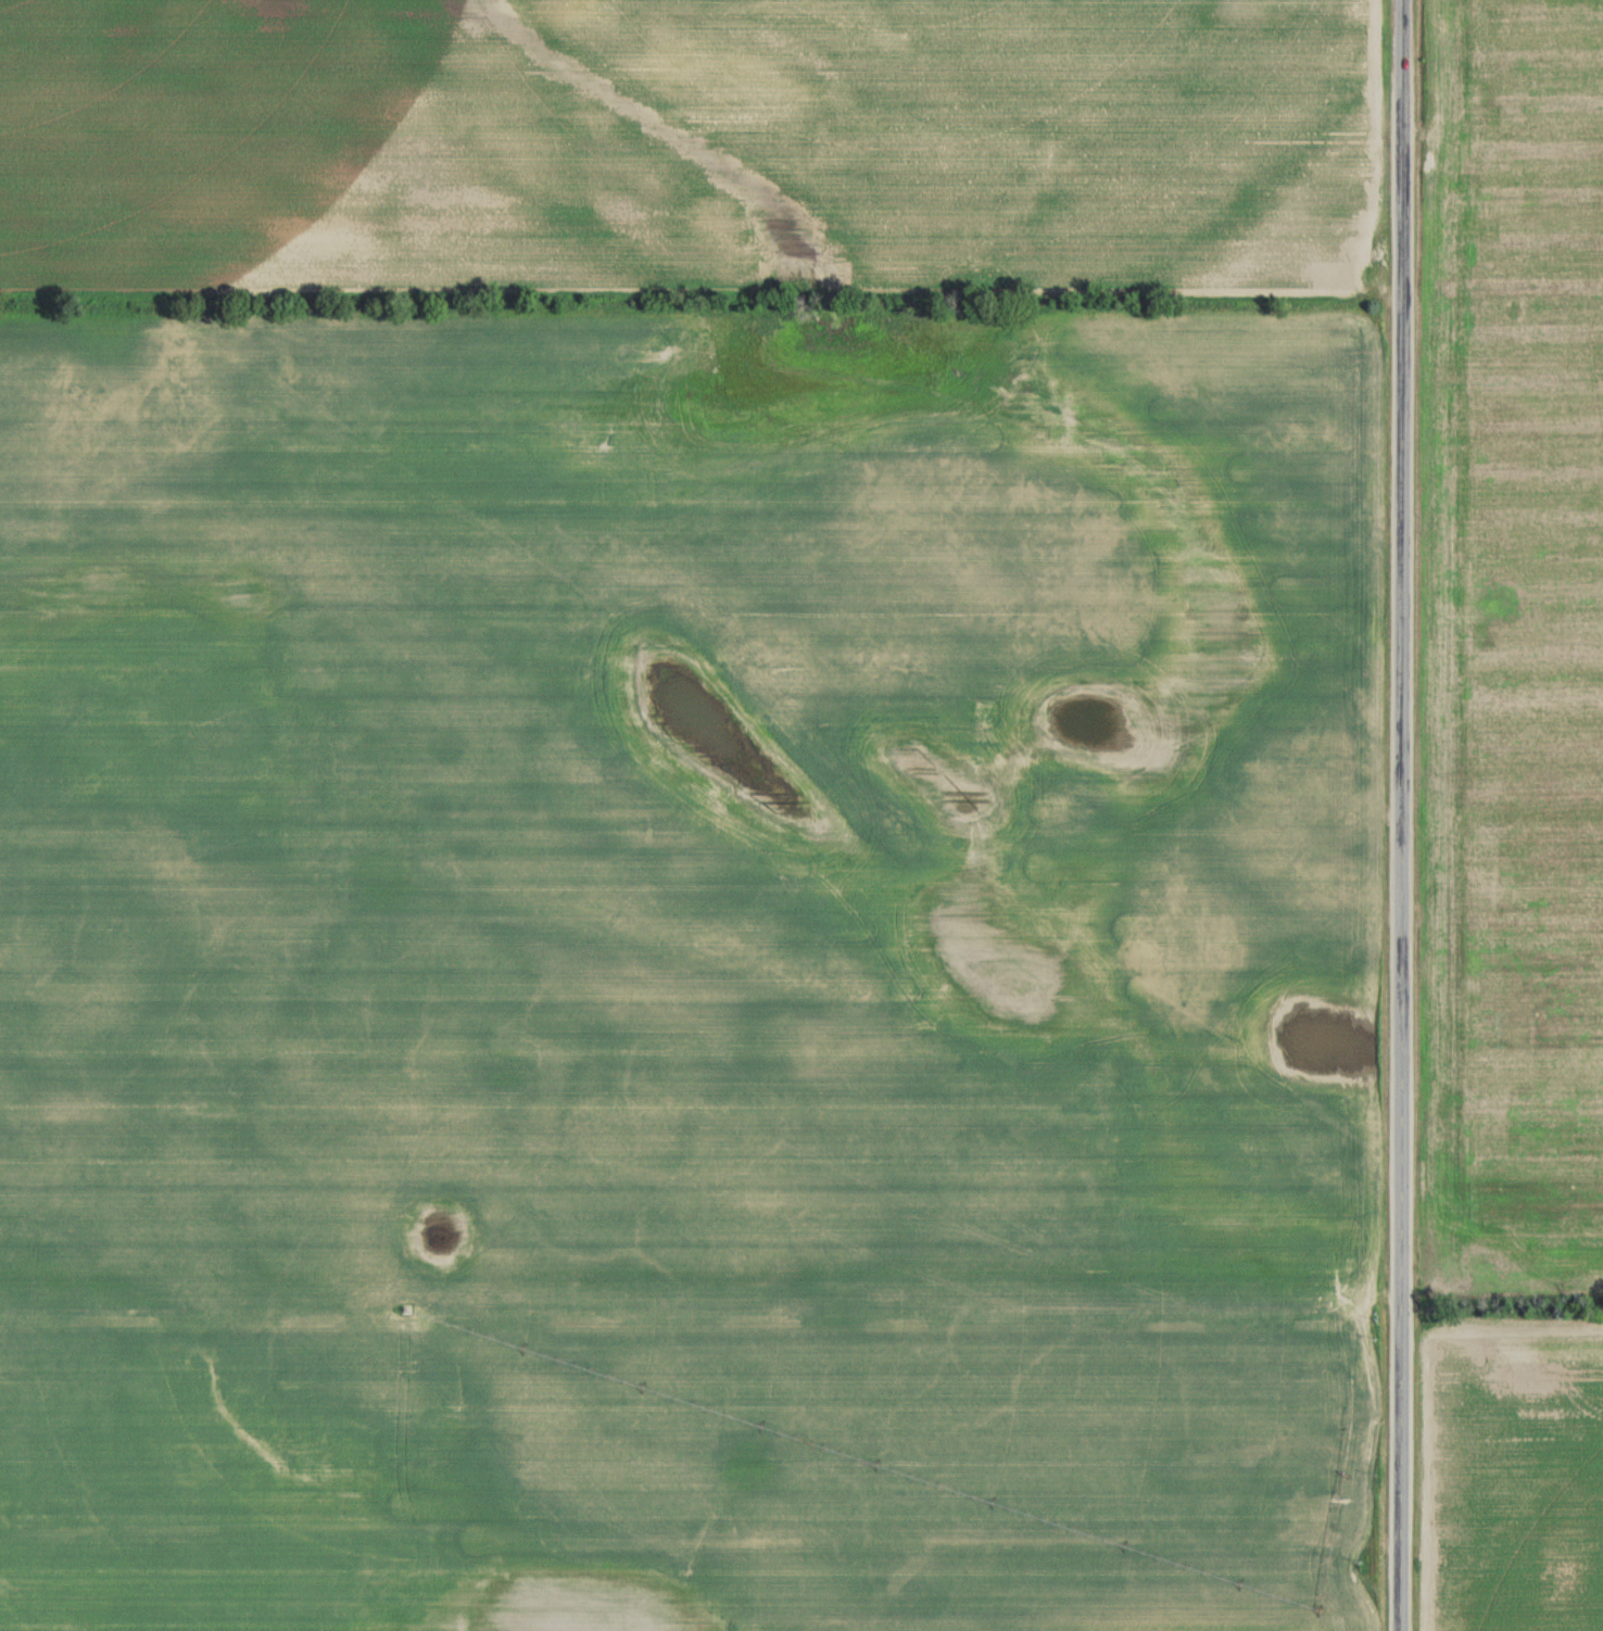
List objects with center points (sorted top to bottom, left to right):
road: (1401, 815)

